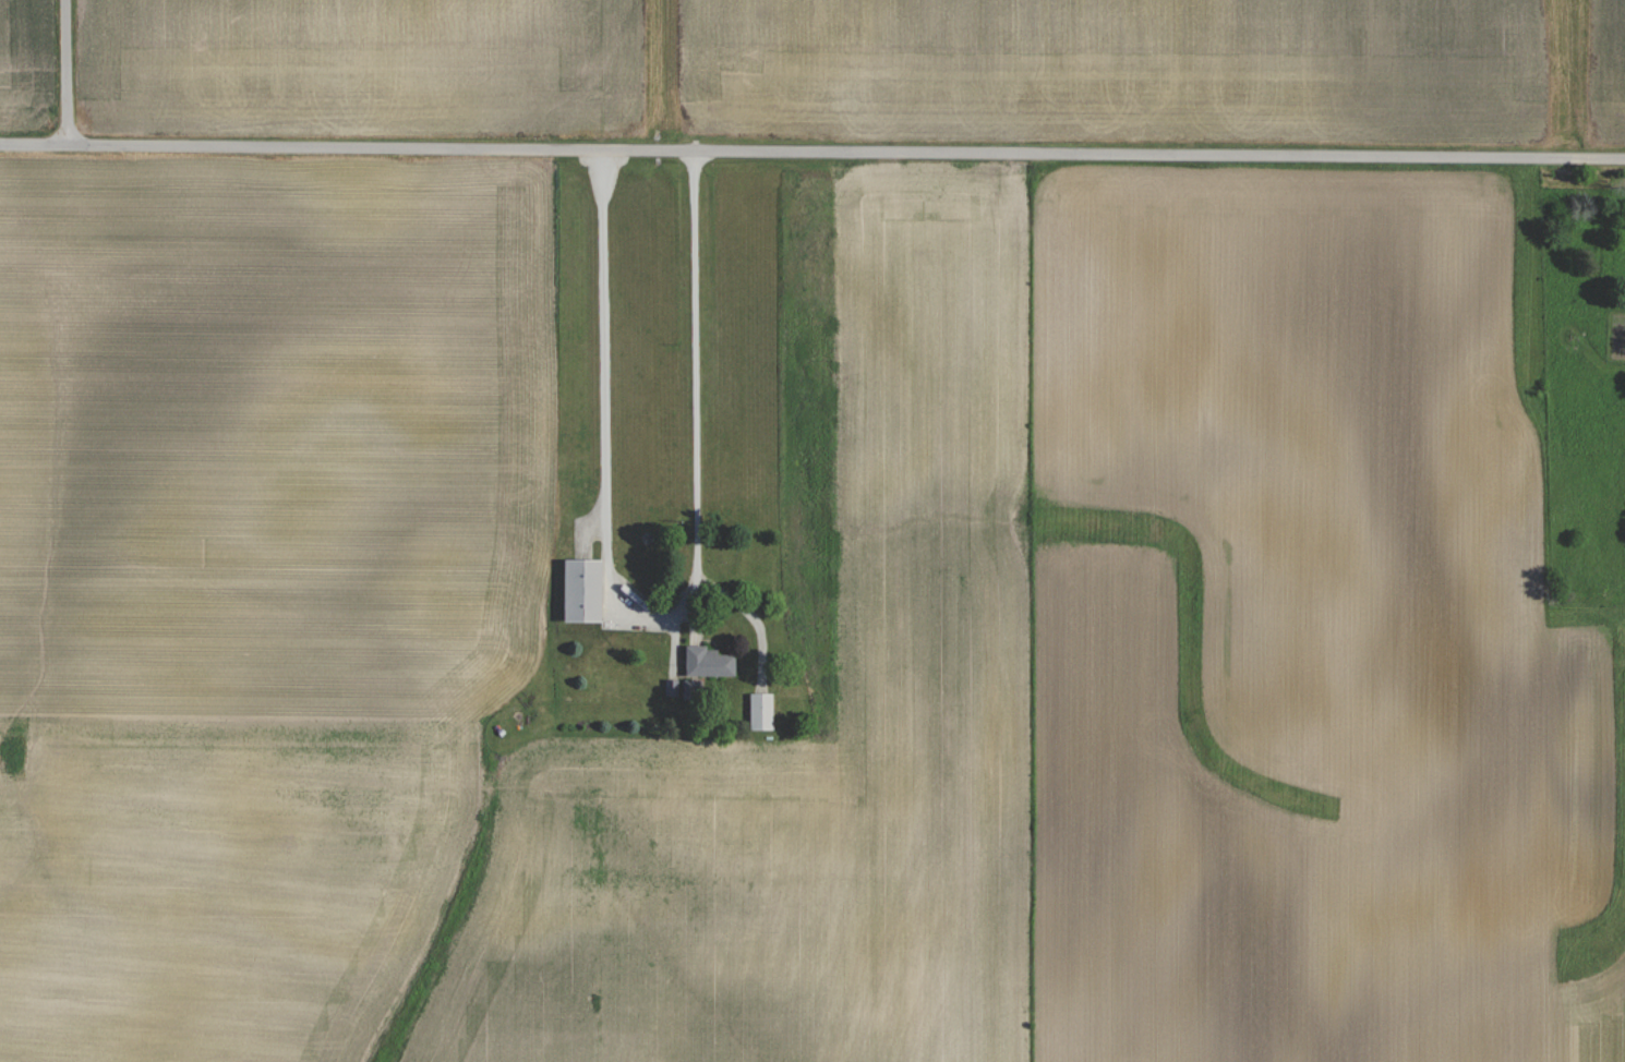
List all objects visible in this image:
road: (65, 72)
road: (811, 152)
building: (585, 589)
road: (655, 616)
building: (710, 661)
building: (693, 688)
building: (762, 711)

